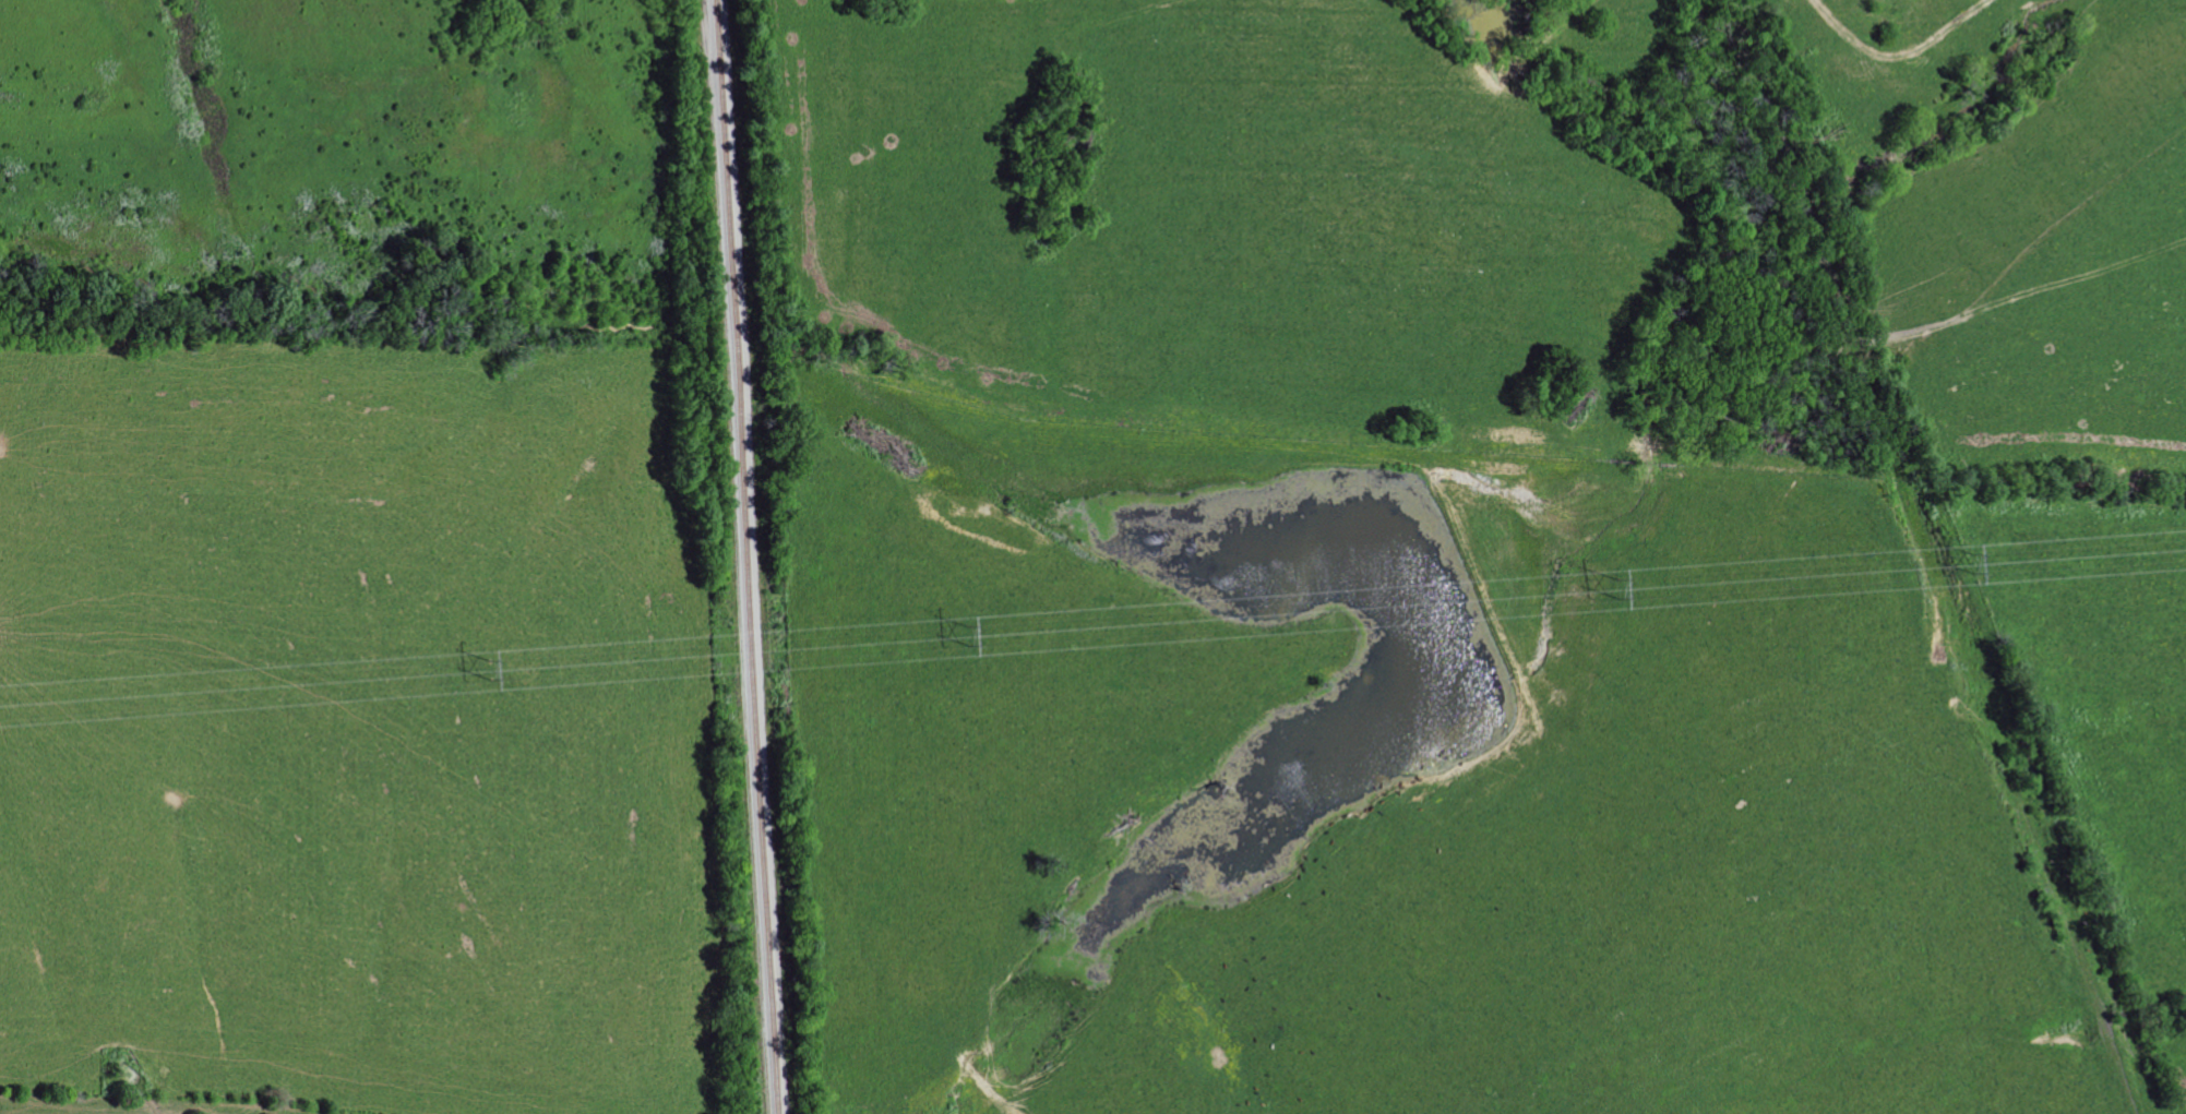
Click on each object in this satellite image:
road: (2046, 165)
railway: (753, 556)
power tower: (1973, 562)
power tower: (1618, 587)
power tower: (968, 635)
power tower: (491, 670)

